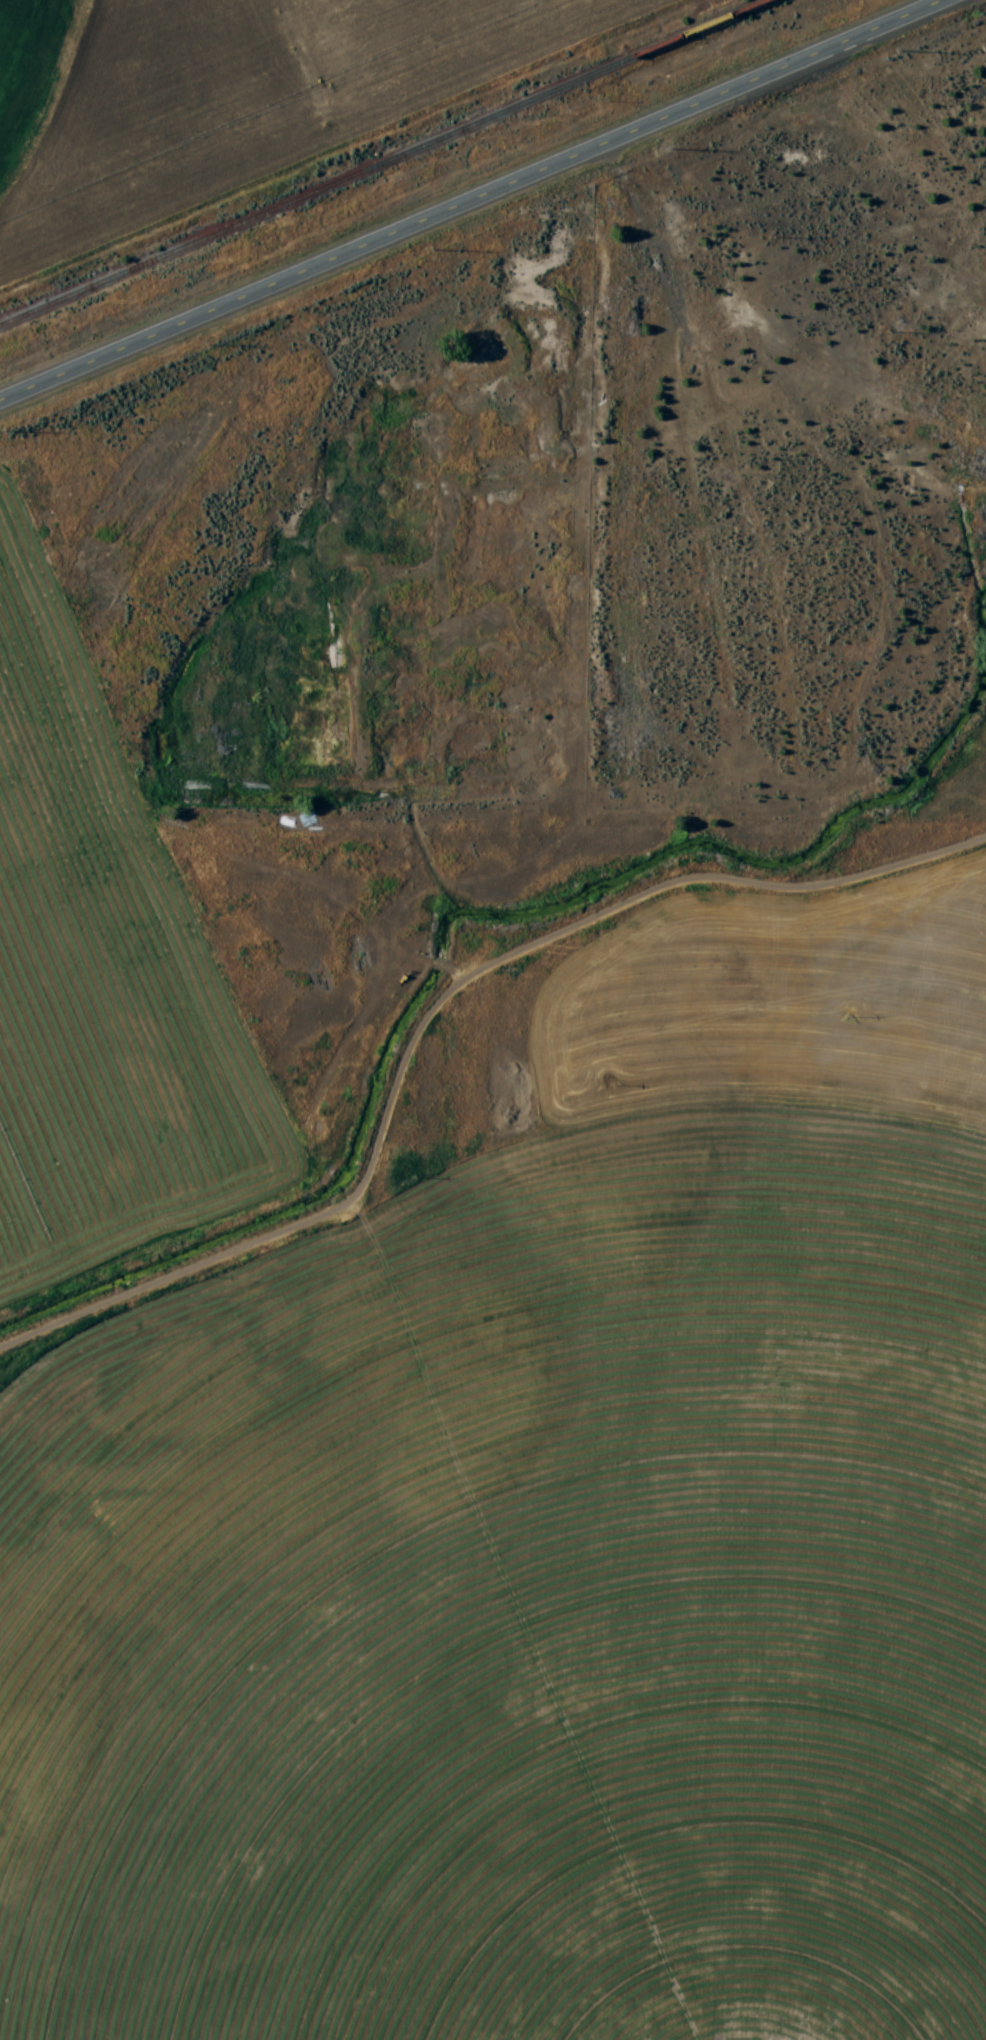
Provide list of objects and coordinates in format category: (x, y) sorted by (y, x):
railway: (384, 163)
road: (476, 201)
road: (790, 220)

